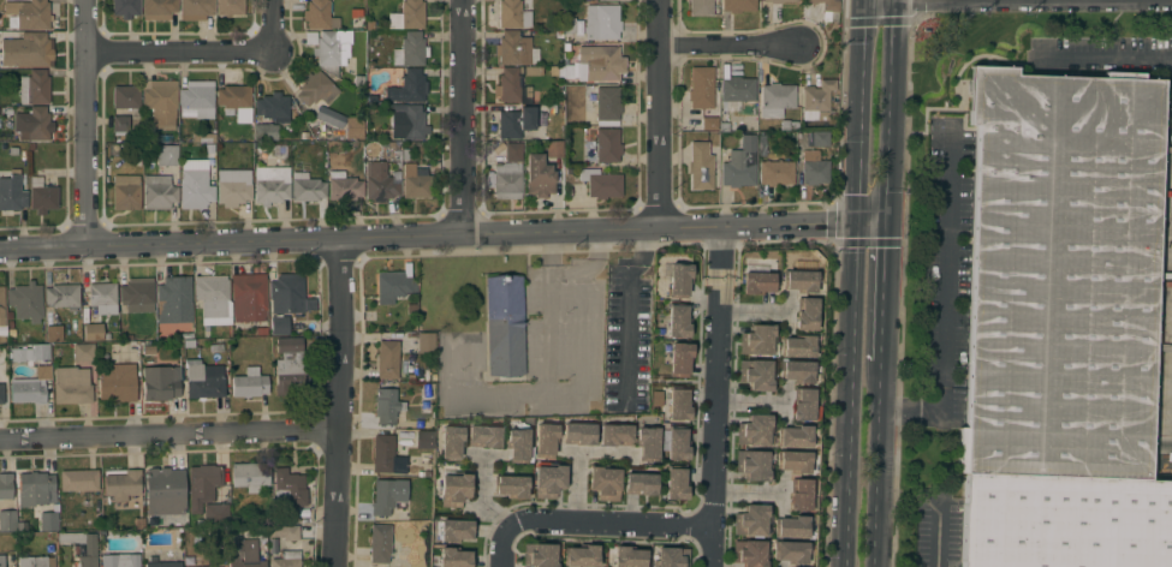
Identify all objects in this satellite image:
building: (779, 1)
building: (826, 5)
building: (738, 6)
building: (230, 7)
building: (704, 7)
building: (125, 8)
building: (157, 10)
building: (195, 10)
building: (28, 14)
building: (512, 14)
building: (319, 16)
building: (407, 16)
building: (601, 23)
road: (192, 41)
road: (734, 42)
building: (513, 48)
building: (28, 50)
building: (332, 50)
building: (410, 50)
road: (1101, 56)
building: (601, 62)
building: (407, 86)
building: (512, 86)
building: (35, 88)
building: (316, 90)
building: (702, 91)
building: (736, 92)
building: (233, 97)
building: (126, 99)
building: (196, 100)
building: (775, 100)
building: (816, 101)
building: (161, 103)
building: (601, 103)
building: (273, 107)
road: (888, 113)
road: (857, 114)
road: (665, 115)
road: (464, 119)
building: (406, 121)
building: (514, 123)
road: (83, 124)
building: (120, 124)
building: (708, 124)
building: (35, 125)
building: (355, 129)
building: (264, 131)
building: (203, 138)
building: (820, 139)
building: (603, 147)
building: (553, 149)
building: (166, 155)
building: (739, 165)
building: (700, 166)
building: (814, 169)
building: (775, 173)
building: (508, 174)
building: (539, 177)
building: (380, 181)
building: (415, 181)
building: (600, 183)
building: (195, 185)
building: (270, 185)
building: (343, 186)
building: (233, 187)
building: (307, 187)
building: (125, 192)
building: (159, 192)
building: (11, 196)
building: (41, 196)
road: (870, 228)
road: (428, 238)
building: (678, 281)
building: (798, 281)
building: (758, 282)
building: (394, 285)
building: (286, 293)
building: (63, 296)
building: (137, 296)
building: (212, 296)
road: (882, 296)
building: (249, 297)
building: (102, 298)
building: (174, 300)
building: (25, 302)
road: (942, 302)
building: (1, 306)
building: (805, 315)
building: (677, 321)
building: (279, 326)
building: (504, 326)
building: (1063, 326)
building: (93, 333)
building: (53, 334)
building: (756, 340)
building: (426, 344)
building: (797, 347)
building: (37, 352)
building: (82, 352)
building: (17, 356)
building: (387, 359)
building: (679, 359)
building: (287, 365)
building: (41, 371)
building: (796, 371)
building: (755, 375)
building: (203, 380)
building: (117, 382)
building: (160, 383)
building: (249, 383)
building: (71, 386)
building: (28, 390)
building: (1, 394)
road: (850, 398)
road: (716, 399)
road: (339, 402)
building: (424, 404)
building: (678, 404)
building: (804, 405)
building: (386, 406)
building: (754, 430)
building: (578, 434)
building: (614, 435)
building: (483, 436)
building: (793, 436)
road: (168, 438)
building: (423, 440)
building: (545, 440)
building: (451, 443)
building: (647, 443)
building: (676, 443)
building: (518, 446)
building: (386, 455)
building: (792, 461)
road: (876, 464)
building: (752, 465)
building: (249, 476)
building: (77, 481)
building: (548, 481)
building: (603, 482)
building: (674, 483)
building: (639, 484)
building: (5, 485)
building: (121, 485)
building: (202, 485)
building: (510, 487)
building: (35, 489)
building: (288, 489)
building: (453, 490)
building: (165, 491)
building: (799, 495)
building: (387, 496)
building: (215, 514)
building: (290, 515)
building: (7, 520)
building: (750, 520)
building: (48, 521)
road: (590, 523)
building: (791, 526)
building: (454, 530)
road: (939, 530)
building: (284, 532)
building: (379, 543)
building: (81, 547)
building: (272, 547)
building: (248, 548)
building: (790, 551)
building: (749, 554)
building: (540, 555)
building: (581, 556)
building: (454, 557)
building: (629, 557)
building: (671, 557)
building: (119, 560)
building: (286, 560)
building: (1, 561)
building: (35, 561)
building: (160, 563)

